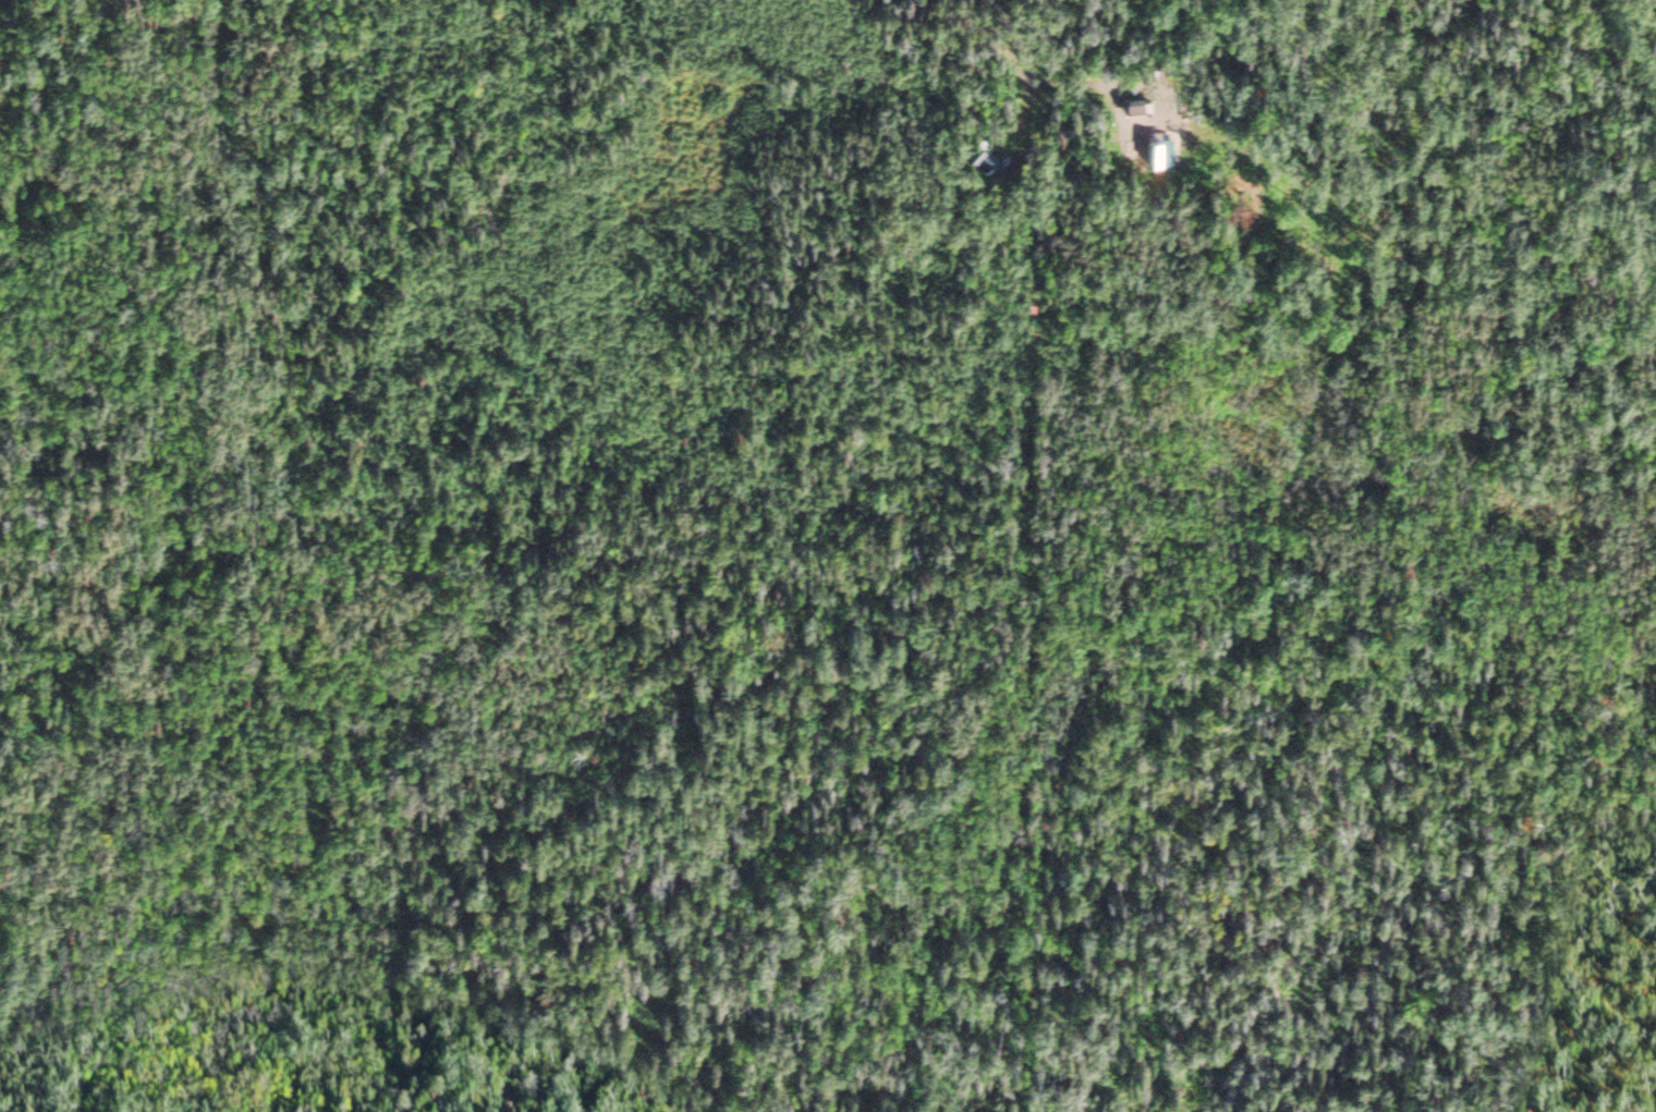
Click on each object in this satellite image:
building: (1149, 148)

